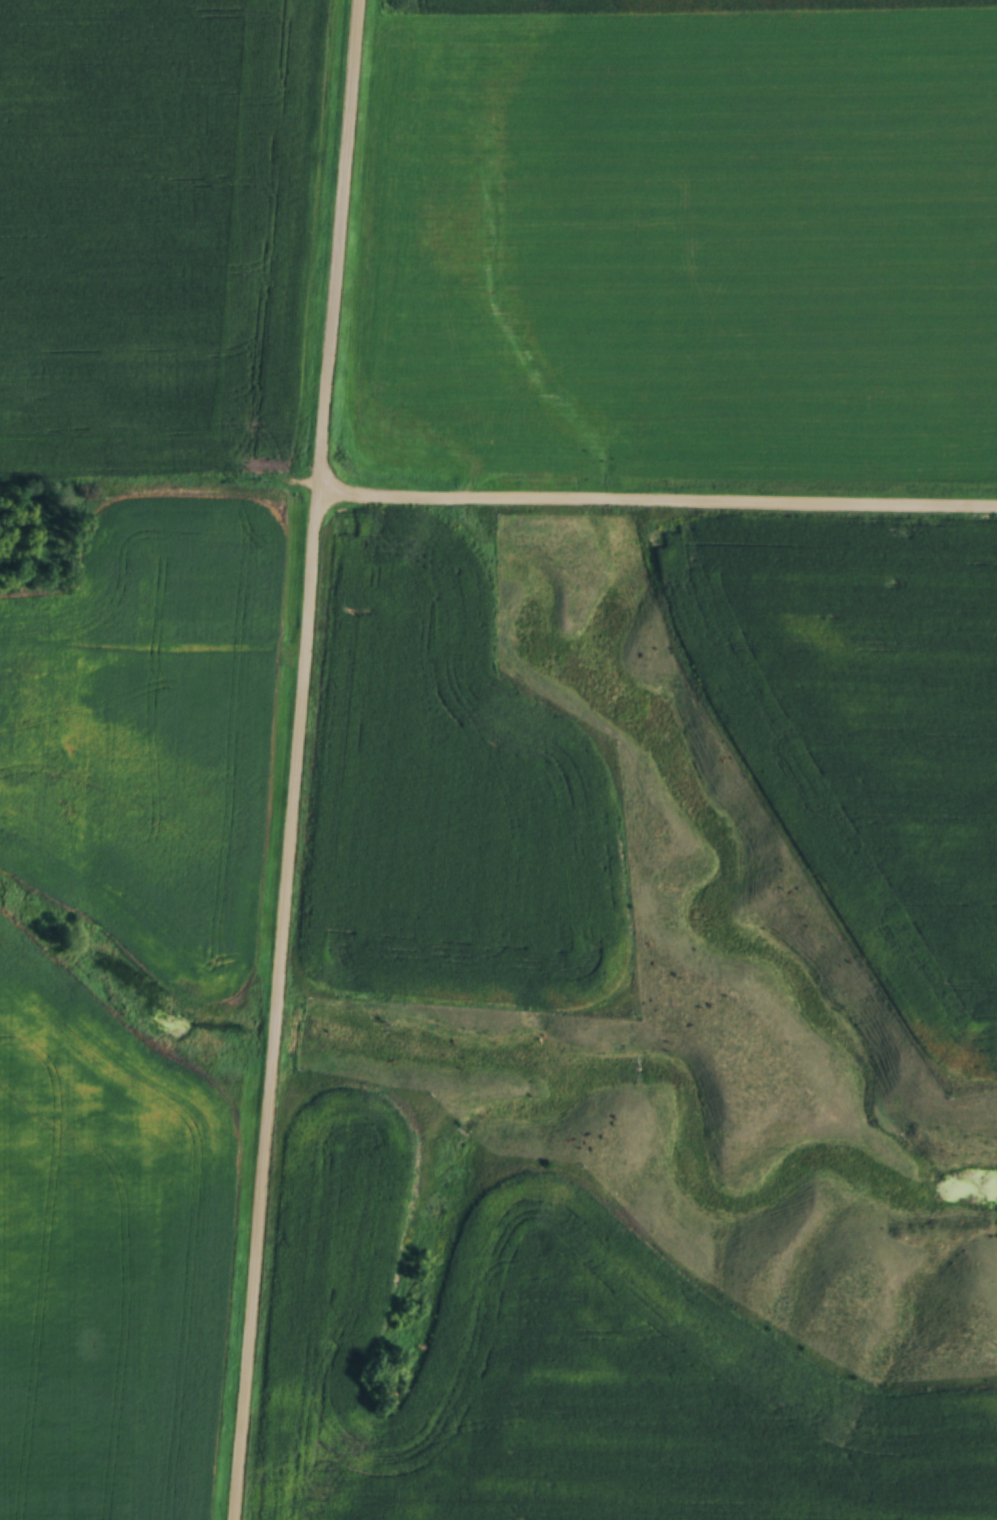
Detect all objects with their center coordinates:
road: (659, 495)
road: (154, 641)
road: (299, 760)

